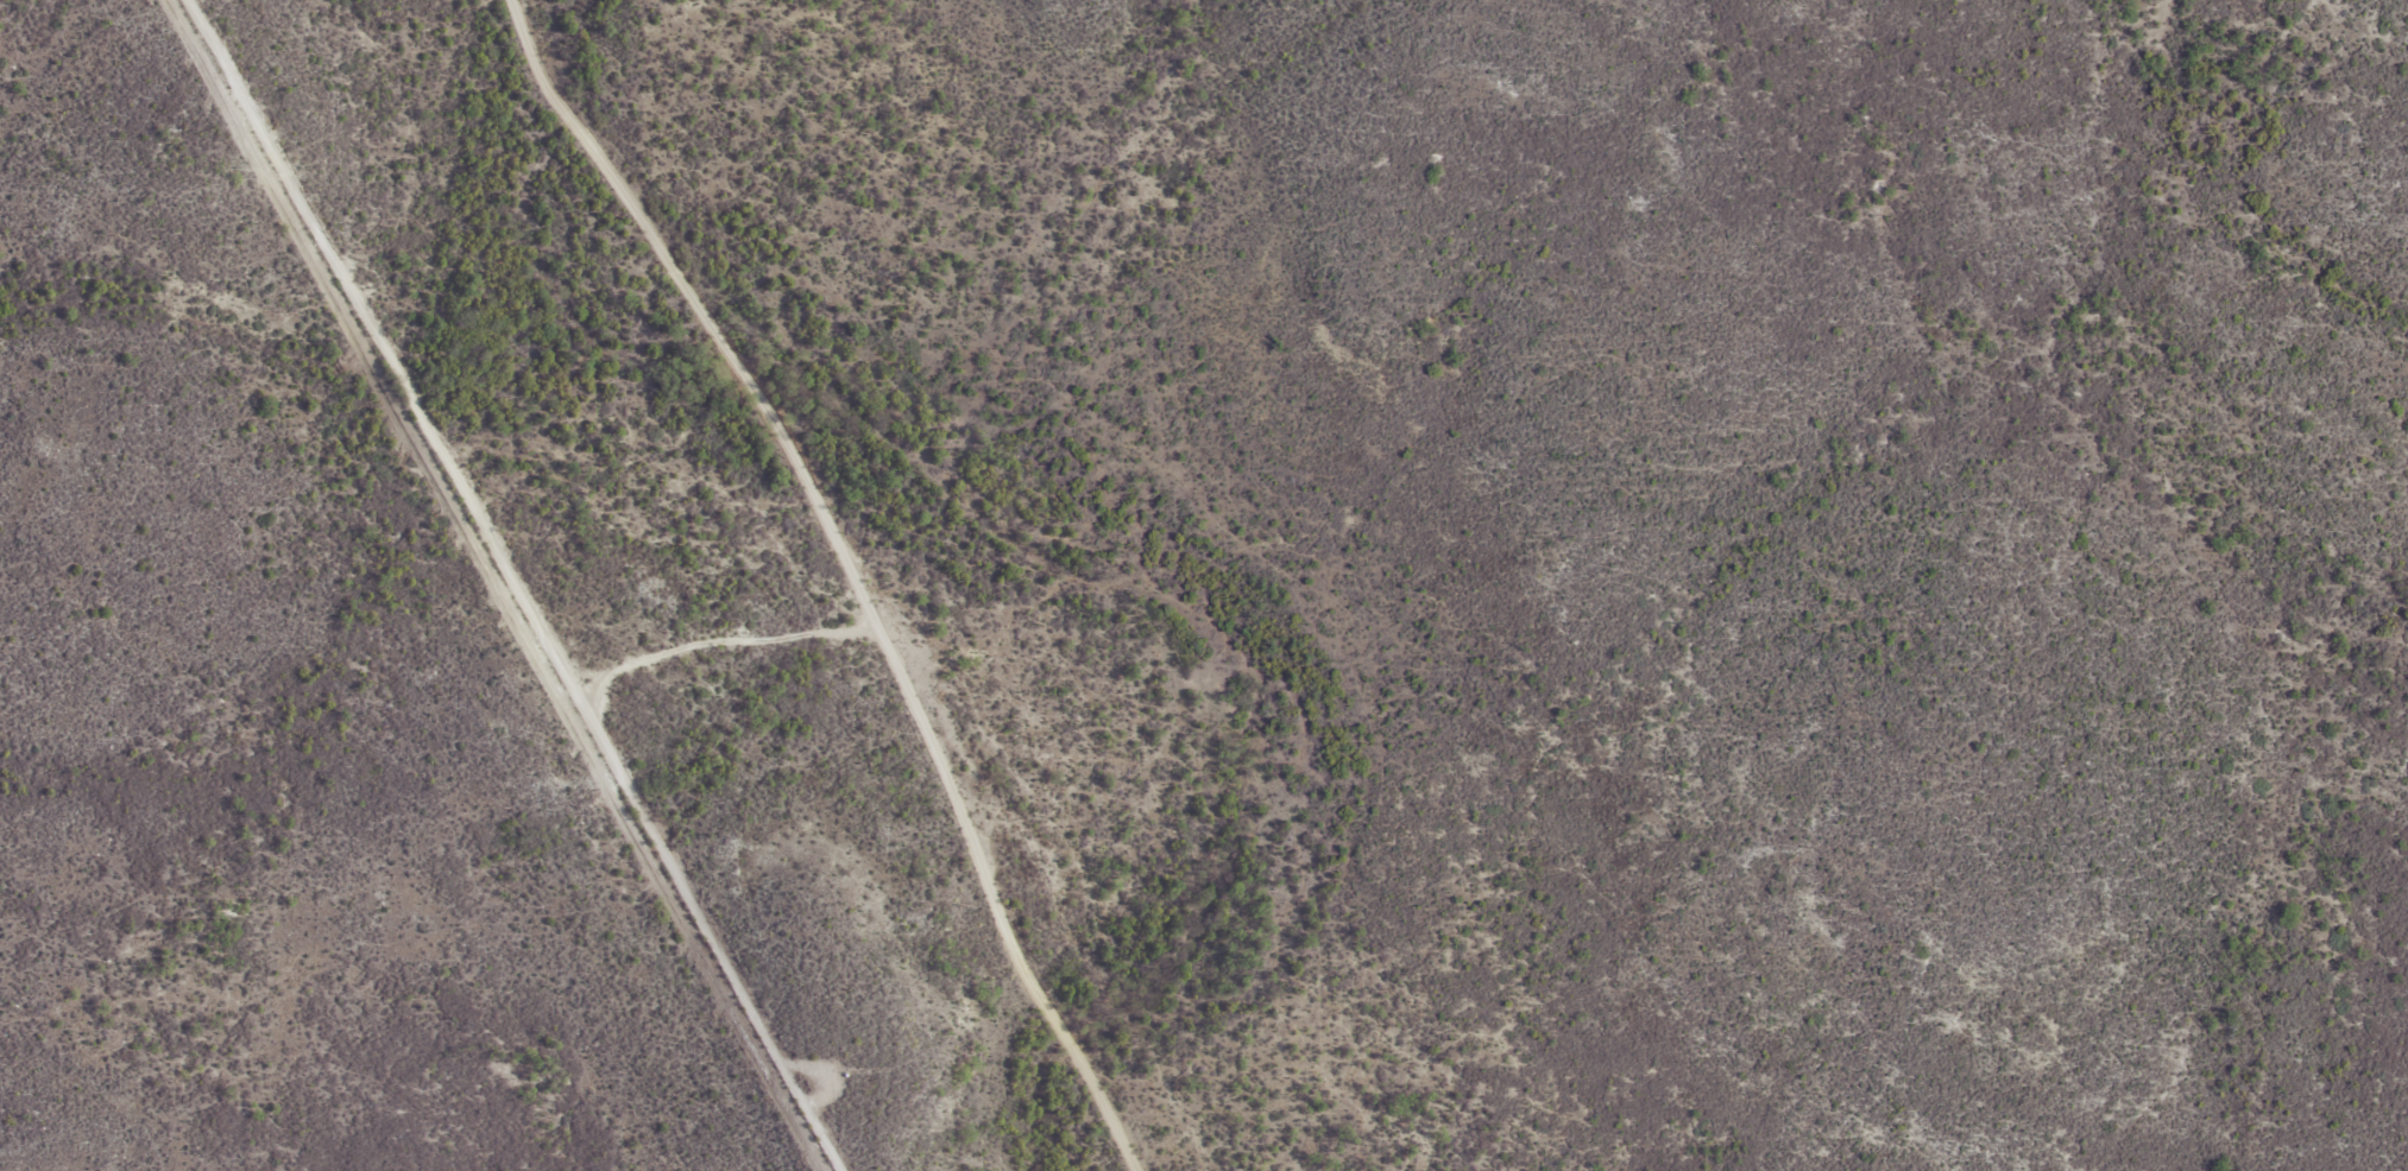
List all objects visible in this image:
road: (857, 571)

